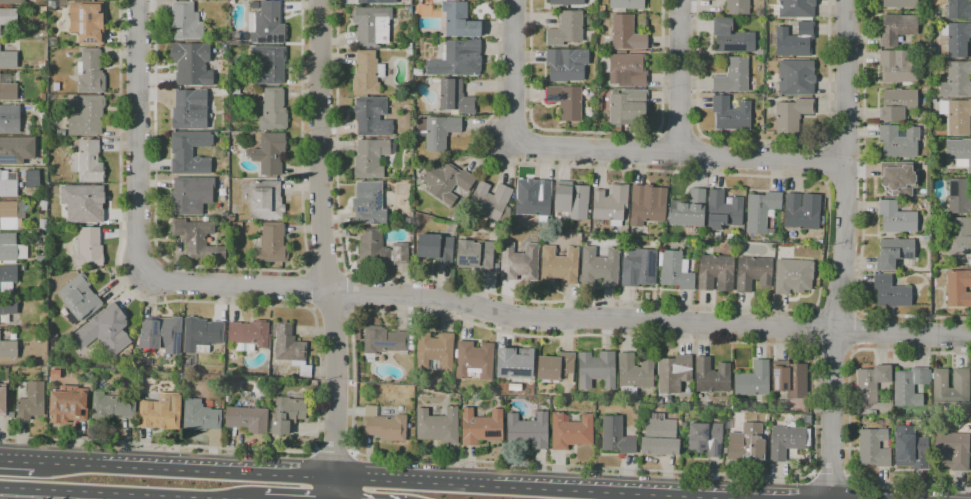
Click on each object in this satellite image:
building: (376, 1)
building: (12, 2)
building: (566, 2)
building: (900, 3)
building: (626, 5)
building: (737, 7)
building: (794, 9)
building: (43, 10)
building: (956, 10)
building: (759, 14)
rooftop solar panel: (80, 15)
building: (8, 17)
rooftop solar panel: (89, 17)
building: (459, 21)
building: (87, 22)
building: (185, 22)
building: (645, 24)
building: (267, 25)
building: (372, 25)
rooftop solar panel: (81, 28)
building: (896, 28)
building: (566, 29)
building: (626, 34)
rooftop solar panel: (266, 37)
building: (731, 37)
building: (234, 38)
building: (957, 38)
rooftop solar panel: (274, 40)
rooftop solar panel: (277, 40)
building: (795, 40)
rooftop solar panel: (259, 41)
building: (52, 42)
building: (409, 45)
building: (224, 46)
building: (410, 51)
building: (760, 52)
building: (457, 59)
building: (8, 60)
building: (192, 64)
building: (566, 64)
building: (269, 65)
building: (897, 67)
building: (627, 70)
building: (417, 71)
building: (90, 72)
road: (513, 73)
building: (367, 74)
building: (733, 76)
road: (680, 77)
building: (796, 77)
building: (957, 80)
building: (7, 88)
building: (235, 90)
building: (226, 91)
building: (455, 97)
building: (566, 101)
building: (898, 104)
building: (626, 108)
building: (190, 110)
building: (273, 110)
building: (730, 114)
building: (86, 115)
building: (792, 115)
building: (956, 115)
building: (372, 117)
building: (9, 119)
building: (438, 131)
road: (598, 132)
building: (61, 133)
road: (680, 134)
road: (138, 137)
road: (844, 140)
road: (764, 141)
building: (899, 142)
road: (320, 146)
building: (16, 150)
road: (660, 152)
building: (959, 152)
building: (189, 153)
building: (270, 153)
road: (679, 153)
road: (698, 154)
rooftop solar panel: (4, 159)
building: (371, 159)
building: (87, 162)
road: (826, 162)
building: (898, 178)
building: (32, 179)
building: (447, 182)
road: (844, 183)
building: (8, 184)
rooftop solar panel: (955, 189)
building: (191, 195)
building: (959, 196)
building: (533, 198)
building: (266, 201)
building: (490, 201)
building: (570, 201)
rooftop solar panel: (377, 202)
building: (82, 203)
building: (369, 204)
building: (610, 204)
building: (647, 205)
rooftop solar panel: (361, 210)
building: (689, 211)
building: (723, 211)
building: (761, 211)
building: (802, 211)
road: (861, 213)
building: (12, 214)
building: (896, 218)
building: (205, 219)
building: (821, 221)
building: (405, 223)
building: (42, 224)
building: (593, 233)
building: (959, 236)
building: (196, 238)
building: (819, 242)
building: (272, 244)
building: (88, 248)
building: (373, 248)
building: (435, 248)
road: (844, 249)
building: (8, 252)
building: (399, 253)
building: (893, 253)
building: (475, 255)
rooftop solar panel: (906, 256)
building: (519, 263)
rooftop solar panel: (649, 264)
building: (559, 266)
building: (599, 266)
building: (638, 267)
road: (323, 268)
road: (236, 269)
building: (675, 270)
building: (715, 273)
building: (753, 273)
building: (793, 276)
building: (7, 278)
road: (238, 286)
road: (302, 287)
building: (958, 288)
road: (349, 291)
building: (890, 292)
building: (80, 297)
road: (297, 306)
building: (7, 308)
road: (765, 309)
road: (835, 309)
road: (333, 311)
road: (650, 320)
rooftop solar panel: (151, 326)
road: (811, 329)
building: (104, 331)
road: (853, 331)
building: (161, 335)
building: (201, 335)
building: (248, 335)
building: (387, 341)
rooftop solar panel: (175, 344)
rooftop solar panel: (382, 344)
building: (290, 348)
building: (8, 349)
road: (801, 349)
building: (434, 351)
road: (831, 353)
building: (474, 360)
building: (514, 363)
building: (555, 367)
building: (596, 369)
rooftop solar panel: (500, 371)
building: (264, 373)
rooftop solar panel: (515, 373)
building: (673, 373)
building: (634, 374)
building: (711, 376)
rooftop solar panel: (775, 377)
building: (790, 379)
building: (753, 380)
building: (870, 383)
building: (909, 387)
building: (950, 388)
rooftop solar panel: (63, 391)
road: (336, 395)
building: (3, 400)
building: (31, 402)
building: (554, 402)
building: (707, 405)
building: (112, 406)
building: (65, 407)
building: (161, 412)
building: (871, 412)
building: (287, 414)
road: (848, 415)
building: (199, 416)
building: (247, 419)
building: (383, 425)
building: (438, 426)
building: (481, 427)
building: (528, 430)
building: (571, 431)
rooftop solar panel: (494, 432)
rooftop solar panel: (705, 433)
building: (616, 436)
building: (659, 438)
building: (705, 438)
building: (787, 441)
building: (746, 443)
rooftop solar panel: (701, 446)
building: (873, 447)
building: (910, 448)
rooftop solar panel: (718, 450)
building: (951, 451)
road: (332, 455)
road: (17, 462)
road: (184, 471)
road: (833, 476)
road: (482, 485)
road: (350, 488)
road: (106, 493)
road: (671, 496)
road: (195, 498)
road: (713, 498)
road: (724, 498)

